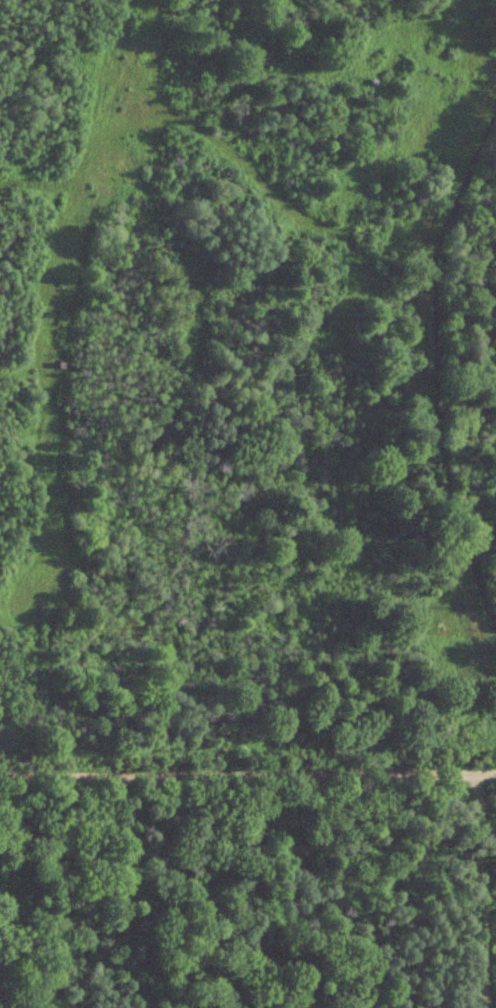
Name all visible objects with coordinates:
road: (248, 776)

